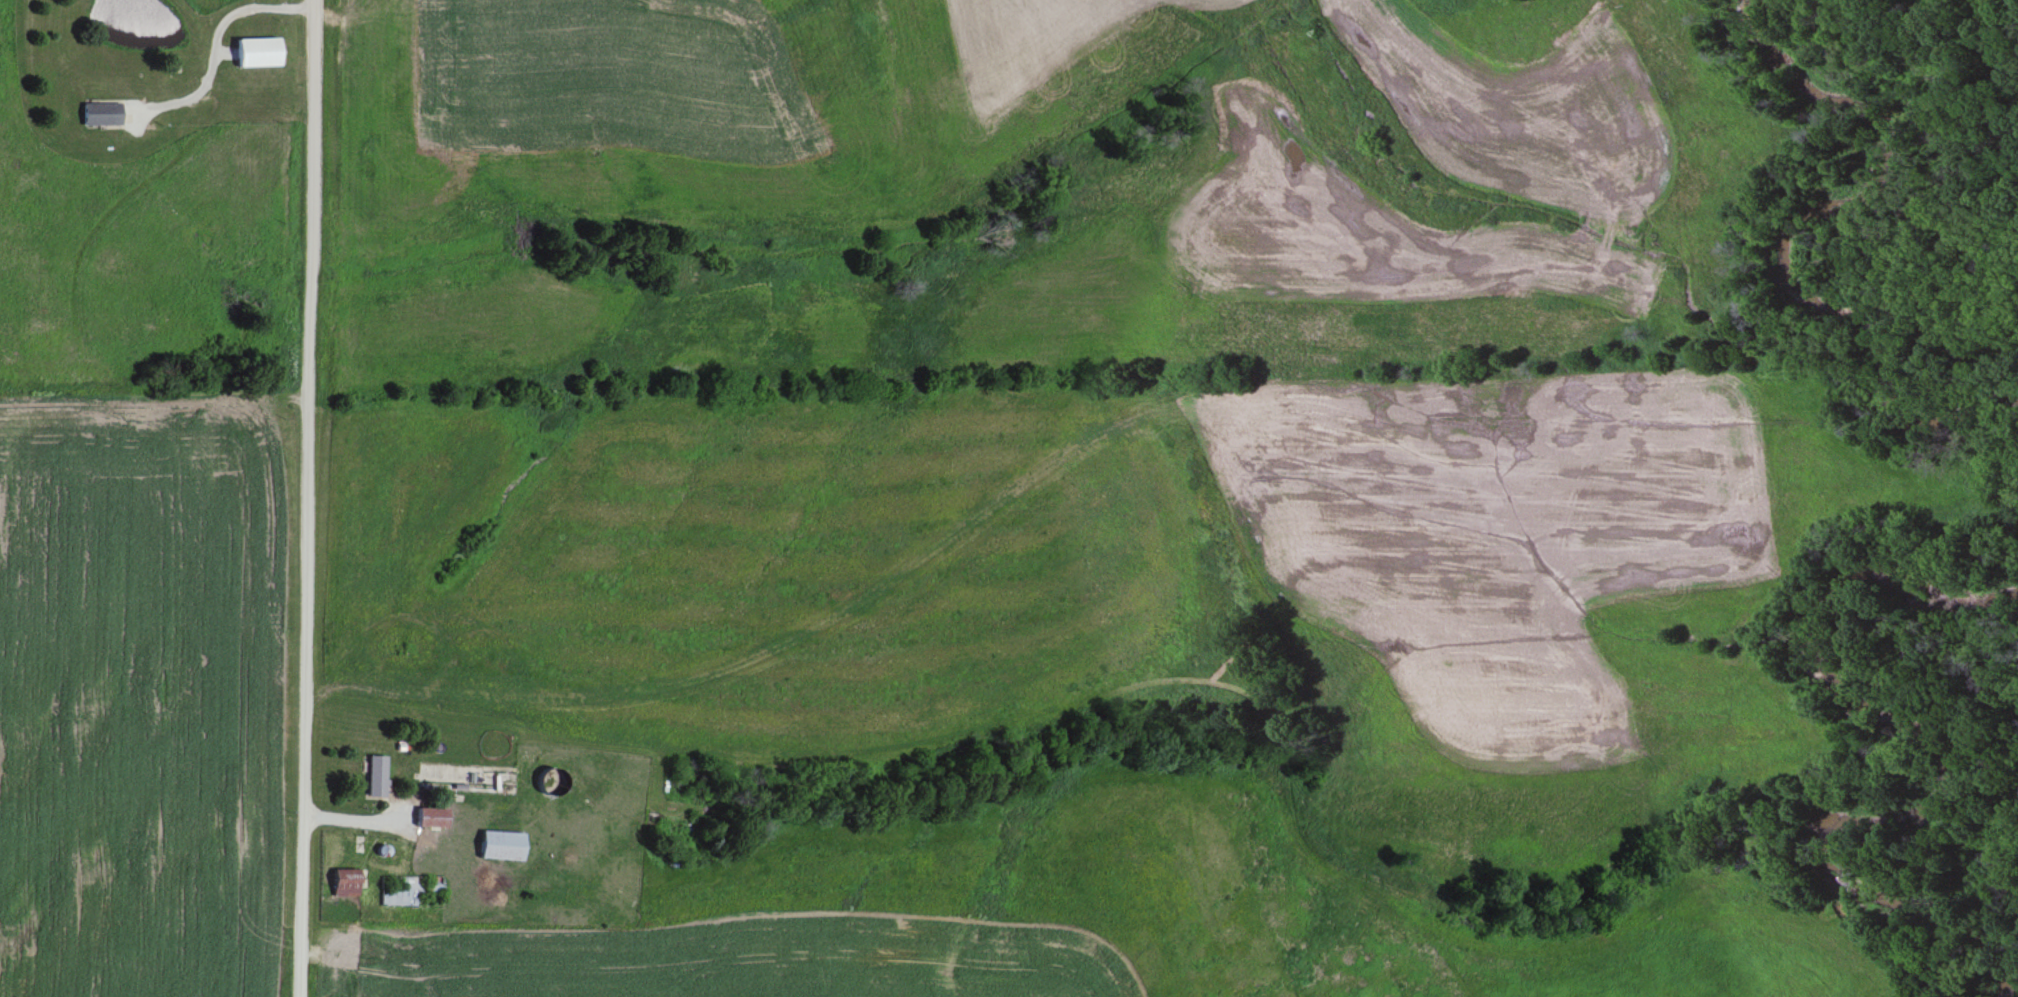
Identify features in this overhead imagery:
building: (255, 52)
building: (97, 113)
road: (311, 186)
road: (153, 375)
road: (301, 684)
building: (371, 776)
building: (426, 818)
road: (374, 822)
building: (496, 846)
building: (342, 883)
building: (406, 891)

